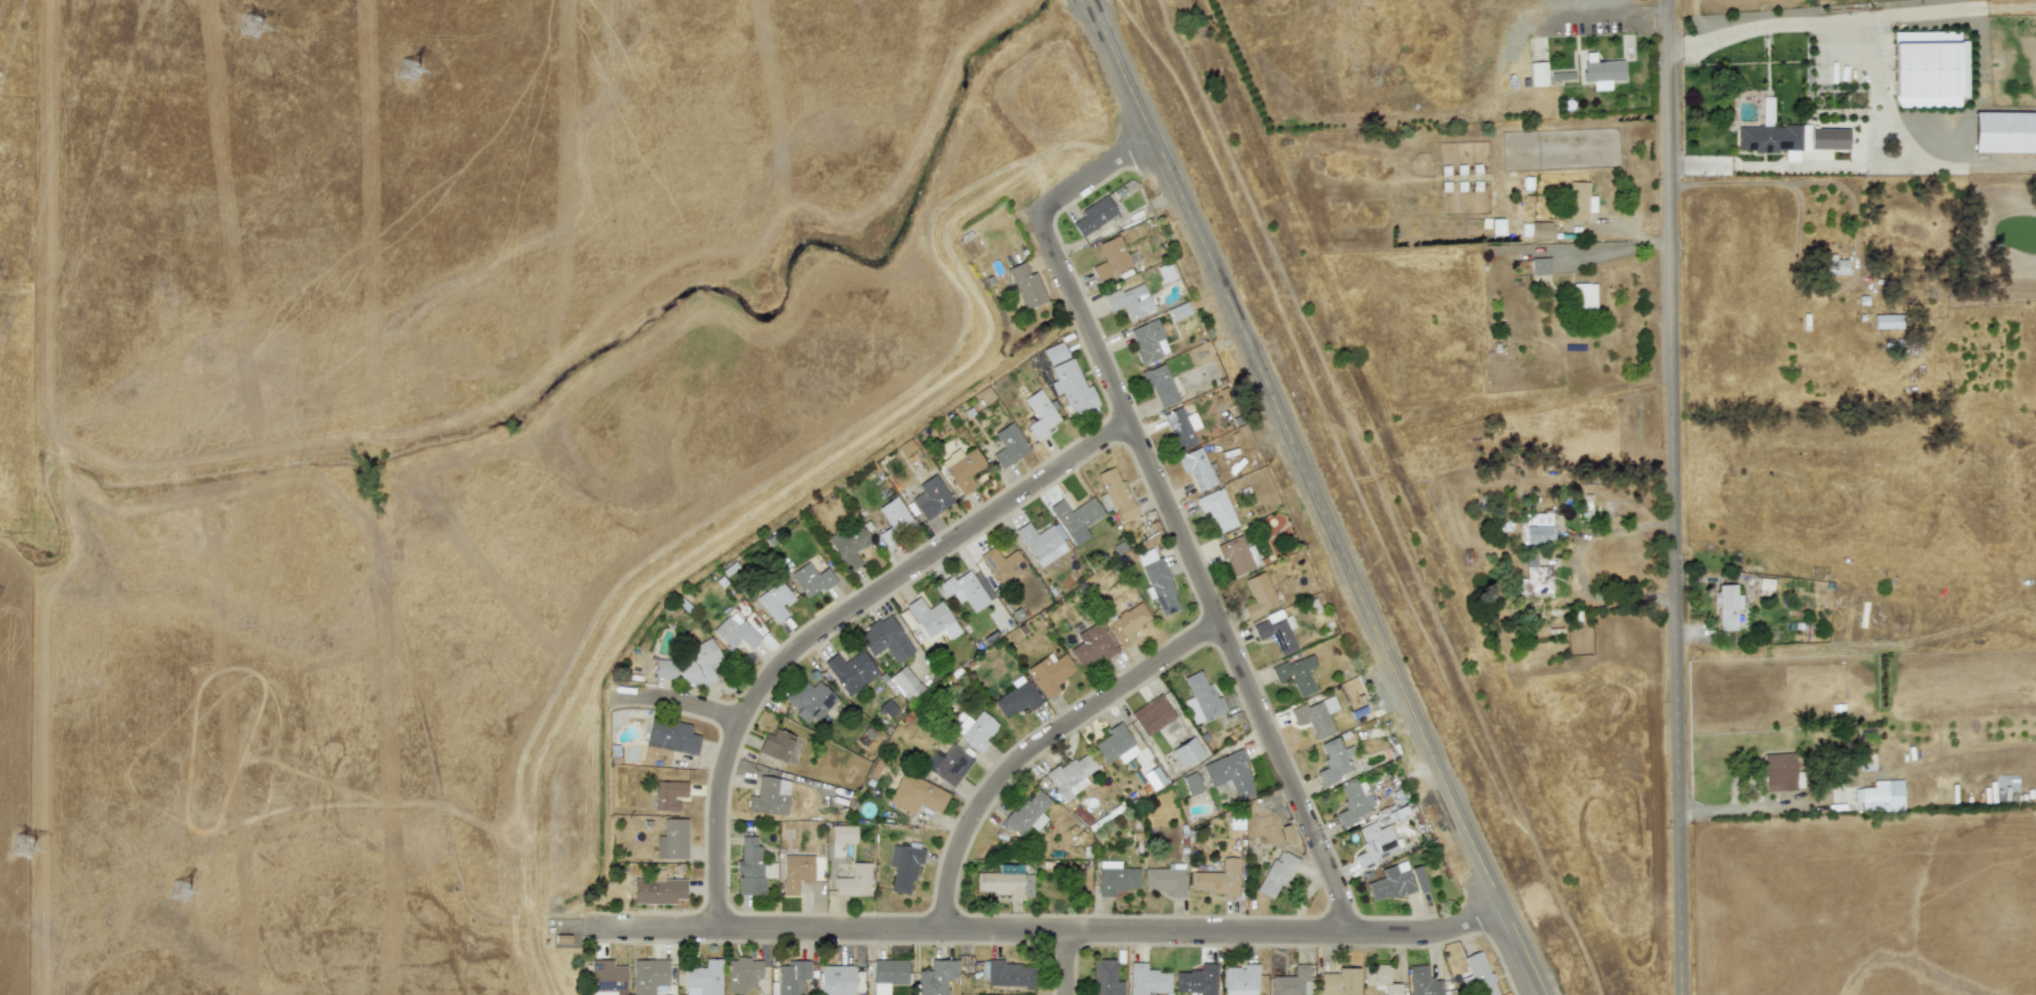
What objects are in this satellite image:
crop: (1664, 5)
road: (1879, 18)
road: (1776, 22)
power tower: (251, 28)
building: (1925, 69)
building: (1601, 71)
power tower: (410, 72)
building: (1538, 73)
building: (1562, 76)
building: (2002, 131)
building: (1773, 138)
building: (1829, 138)
road: (1855, 165)
road: (1093, 175)
building: (1579, 201)
building: (1094, 215)
building: (1497, 227)
building: (1540, 230)
road: (1659, 240)
road: (1604, 252)
building: (1110, 259)
building: (1831, 265)
building: (1540, 266)
building: (1165, 272)
building: (1026, 286)
building: (1583, 296)
building: (1131, 301)
building: (1179, 311)
building: (1886, 321)
building: (1148, 341)
building: (1055, 353)
building: (1159, 384)
building: (1072, 388)
building: (1039, 414)
building: (1180, 428)
building: (1008, 445)
building: (962, 468)
building: (1196, 468)
building: (1114, 493)
building: (931, 497)
road: (1679, 497)
road: (1316, 498)
building: (1216, 509)
building: (896, 517)
building: (1076, 518)
building: (1536, 528)
building: (1042, 543)
building: (848, 545)
building: (1237, 555)
road: (1576, 562)
building: (1002, 564)
road: (1196, 571)
building: (1535, 578)
building: (811, 579)
building: (1159, 583)
building: (964, 590)
building: (1258, 596)
building: (775, 601)
building: (1727, 606)
building: (932, 618)
road: (837, 622)
building: (1128, 623)
building: (735, 632)
building: (1277, 633)
building: (885, 639)
building: (1092, 645)
building: (851, 671)
building: (1049, 673)
building: (1297, 674)
building: (905, 683)
building: (1016, 698)
building: (1201, 699)
building: (809, 700)
road: (674, 703)
building: (1152, 715)
building: (1315, 716)
building: (972, 729)
building: (671, 737)
building: (1116, 745)
building: (779, 747)
road: (1043, 748)
building: (1186, 752)
building: (1335, 761)
building: (948, 764)
building: (1778, 771)
building: (1071, 775)
building: (1230, 776)
building: (1153, 777)
building: (1191, 784)
building: (668, 794)
building: (916, 794)
building: (769, 796)
building: (1880, 796)
building: (1354, 802)
road: (1761, 809)
building: (1028, 813)
building: (843, 834)
building: (674, 838)
building: (1288, 838)
building: (1375, 844)
power tower: (24, 848)
building: (903, 867)
building: (796, 872)
building: (1276, 874)
building: (1115, 878)
building: (1166, 879)
building: (1218, 879)
building: (854, 881)
building: (1397, 882)
building: (1005, 884)
building: (657, 889)
power tower: (181, 893)
road: (1045, 931)
road: (1066, 963)
building: (742, 974)
building: (888, 974)
building: (1008, 974)
building: (648, 975)
building: (1477, 975)
building: (792, 977)
building: (936, 977)
building: (607, 978)
building: (1105, 978)
building: (703, 979)
building: (1380, 979)
building: (837, 980)
building: (1147, 980)
building: (1197, 980)
building: (1240, 980)
building: (1292, 982)
building: (1423, 982)
building: (1339, 983)

